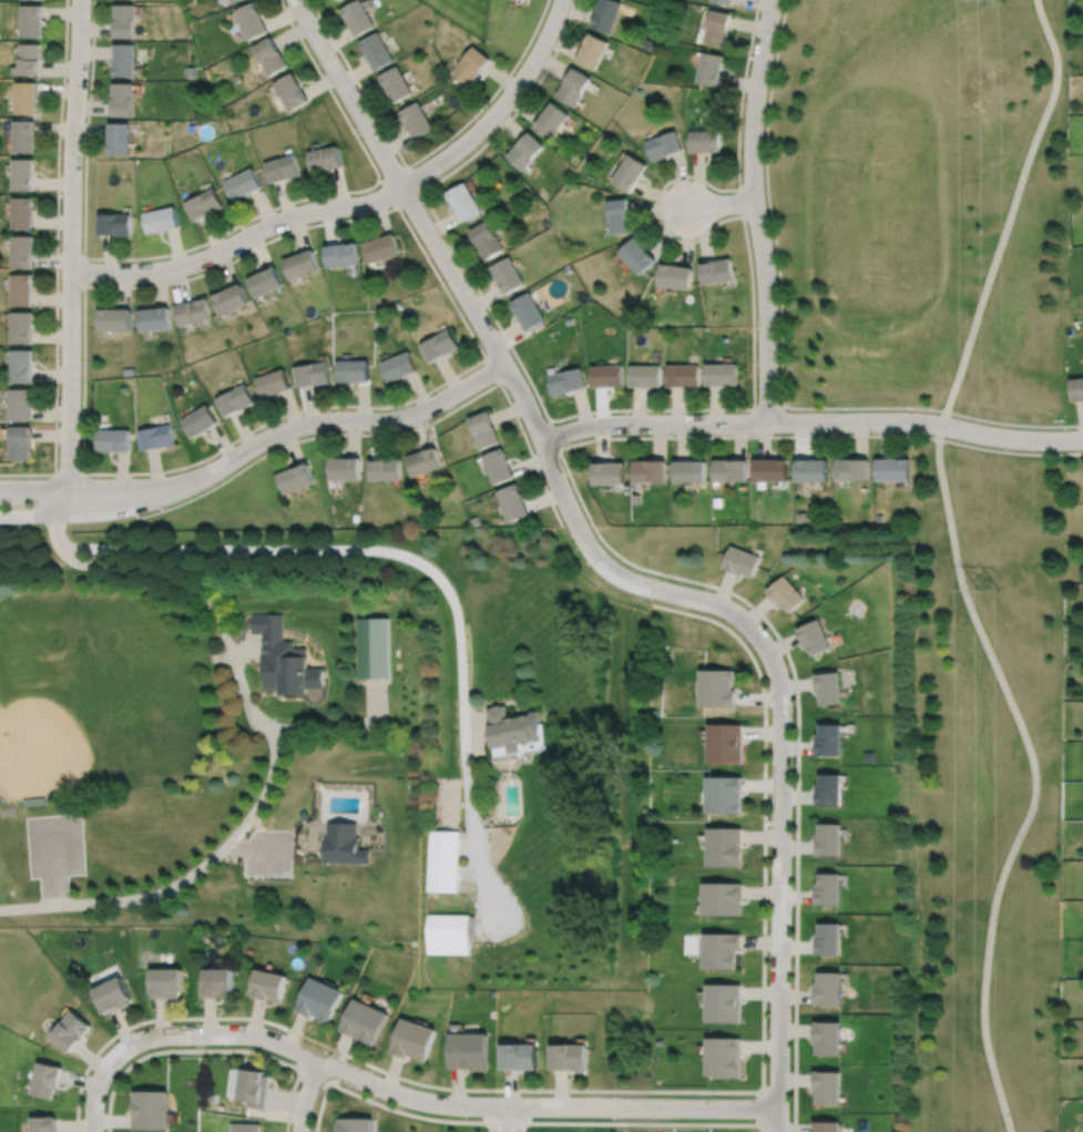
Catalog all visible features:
building: (234, 0)
building: (335, 0)
building: (725, 1)
building: (660, 2)
building: (606, 14)
building: (358, 17)
building: (31, 20)
building: (126, 20)
building: (251, 20)
street lamp: (317, 20)
building: (717, 27)
street lamp: (90, 40)
building: (377, 51)
building: (591, 51)
street lamp: (552, 52)
building: (269, 55)
street lamp: (750, 55)
building: (29, 59)
building: (126, 60)
building: (473, 65)
building: (709, 69)
building: (190, 71)
power tower: (989, 74)
building: (397, 84)
building: (573, 86)
building: (292, 92)
building: (24, 98)
building: (124, 100)
road: (500, 108)
street lamp: (371, 114)
building: (418, 120)
building: (551, 120)
building: (22, 135)
building: (121, 139)
street lamp: (486, 139)
building: (704, 141)
building: (663, 145)
building: (527, 151)
street lamp: (61, 155)
road: (419, 159)
building: (326, 160)
road: (406, 167)
building: (283, 169)
building: (22, 174)
building: (629, 174)
street lamp: (742, 179)
road: (379, 181)
building: (243, 184)
street lamp: (376, 188)
road: (742, 202)
park: (872, 202)
building: (466, 203)
road: (721, 203)
building: (203, 205)
road: (755, 210)
building: (21, 212)
road: (1011, 212)
building: (619, 216)
building: (161, 221)
building: (115, 225)
street lamp: (674, 235)
road: (57, 236)
street lamp: (443, 237)
street lamp: (265, 238)
road: (211, 241)
road: (238, 241)
building: (488, 241)
road: (419, 245)
building: (382, 249)
building: (21, 251)
road: (70, 255)
building: (341, 256)
building: (637, 256)
road: (443, 258)
street lamp: (142, 261)
building: (300, 265)
road: (84, 272)
building: (717, 272)
building: (509, 276)
building: (675, 277)
road: (780, 282)
building: (265, 283)
building: (21, 289)
street lamp: (82, 292)
building: (231, 300)
building: (530, 313)
building: (193, 314)
building: (155, 320)
building: (114, 322)
building: (21, 327)
street lamp: (756, 336)
building: (440, 345)
street lamp: (483, 348)
building: (399, 364)
building: (21, 366)
building: (354, 367)
building: (129, 369)
road: (491, 369)
building: (314, 371)
building: (723, 371)
building: (644, 373)
building: (684, 373)
building: (606, 374)
building: (566, 378)
building: (273, 380)
building: (1076, 389)
street lamp: (433, 390)
building: (236, 397)
street lamp: (756, 402)
building: (20, 405)
road: (697, 408)
road: (769, 408)
building: (200, 418)
road: (334, 418)
road: (810, 421)
street lamp: (58, 422)
road: (1013, 422)
building: (484, 427)
street lamp: (873, 431)
street lamp: (317, 432)
road: (394, 432)
road: (552, 432)
street lamp: (636, 434)
building: (157, 435)
building: (114, 437)
street lamp: (565, 441)
building: (20, 442)
building: (426, 459)
building: (500, 463)
building: (345, 466)
building: (386, 467)
building: (855, 467)
building: (896, 467)
building: (733, 468)
building: (773, 468)
building: (814, 468)
building: (651, 469)
building: (691, 469)
park: (950, 470)
building: (610, 471)
road: (41, 473)
street lamp: (89, 476)
building: (296, 476)
road: (82, 487)
street lamp: (201, 490)
building: (514, 499)
building: (718, 501)
road: (84, 510)
building: (806, 514)
street lamp: (90, 521)
street lamp: (579, 550)
building: (742, 560)
road: (632, 562)
road: (426, 568)
street lamp: (676, 582)
power tower: (989, 589)
building: (787, 592)
building: (816, 636)
street lamp: (749, 642)
road: (226, 645)
building: (374, 649)
building: (283, 656)
building: (830, 686)
building: (718, 687)
park: (92, 696)
street lamp: (793, 715)
building: (512, 728)
building: (831, 738)
building: (727, 743)
road: (780, 771)
road: (1034, 775)
building: (830, 789)
building: (724, 794)
street lamp: (768, 819)
building: (828, 839)
building: (344, 844)
parking lot: (54, 845)
building: (724, 847)
building: (442, 861)
road: (53, 863)
road: (205, 863)
building: (828, 889)
building: (721, 899)
road: (28, 906)
street lamp: (790, 916)
building: (449, 934)
building: (827, 939)
building: (721, 950)
building: (166, 983)
building: (215, 983)
building: (268, 987)
building: (827, 989)
building: (111, 998)
building: (319, 1001)
building: (723, 1003)
building: (365, 1022)
building: (70, 1031)
street lamp: (283, 1032)
street lamp: (767, 1034)
building: (827, 1038)
building: (411, 1040)
building: (657, 1042)
street lamp: (168, 1046)
road: (211, 1050)
building: (468, 1050)
building: (519, 1058)
building: (723, 1058)
building: (569, 1059)
road: (314, 1075)
building: (45, 1079)
building: (254, 1088)
building: (826, 1088)
road: (95, 1089)
road: (653, 1090)
street lamp: (495, 1093)
road: (306, 1094)
street lamp: (379, 1097)
street lamp: (717, 1097)
road: (438, 1103)
road: (385, 1105)
road: (760, 1108)
street lamp: (81, 1109)
building: (151, 1109)
street lamp: (607, 1118)
road: (505, 1119)
street lamp: (290, 1122)
road: (504, 1122)
road: (640, 1123)
building: (43, 1124)
building: (356, 1124)
building: (826, 1126)
building: (243, 1128)
street lamp: (767, 1131)

